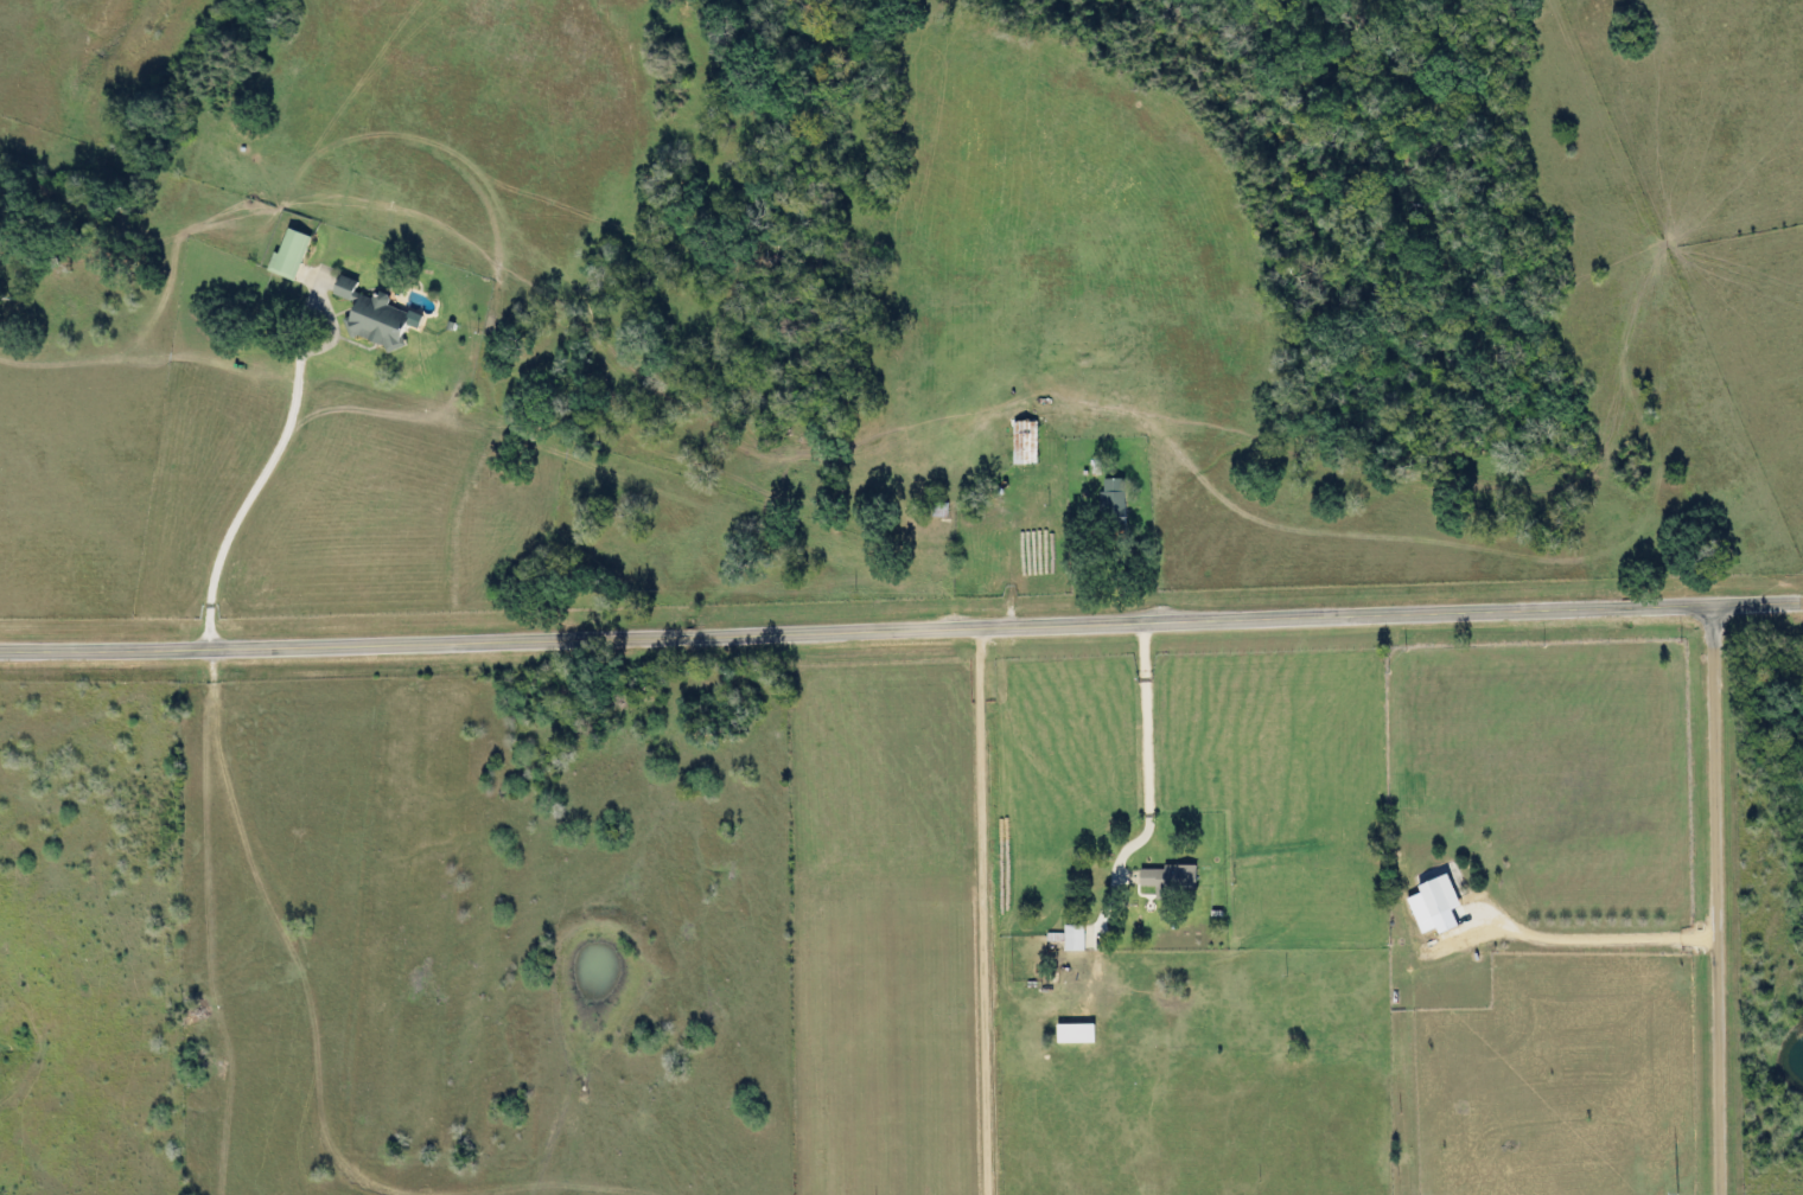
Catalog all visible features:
building: (297, 255)
building: (382, 317)
building: (1030, 443)
building: (1120, 499)
road: (1756, 600)
road: (854, 627)
building: (1178, 876)
building: (1452, 895)
road: (1718, 899)
building: (1078, 941)

